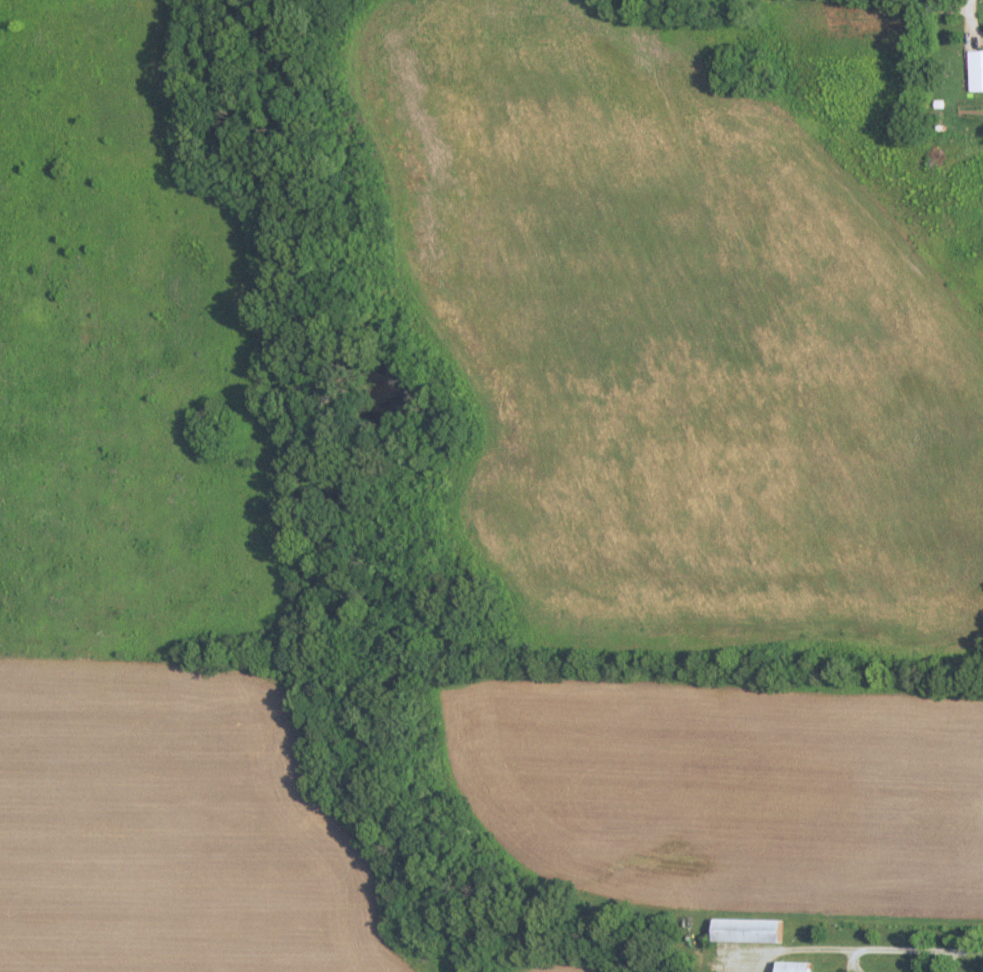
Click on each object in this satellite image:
building: (977, 71)
building: (752, 931)
building: (798, 967)

